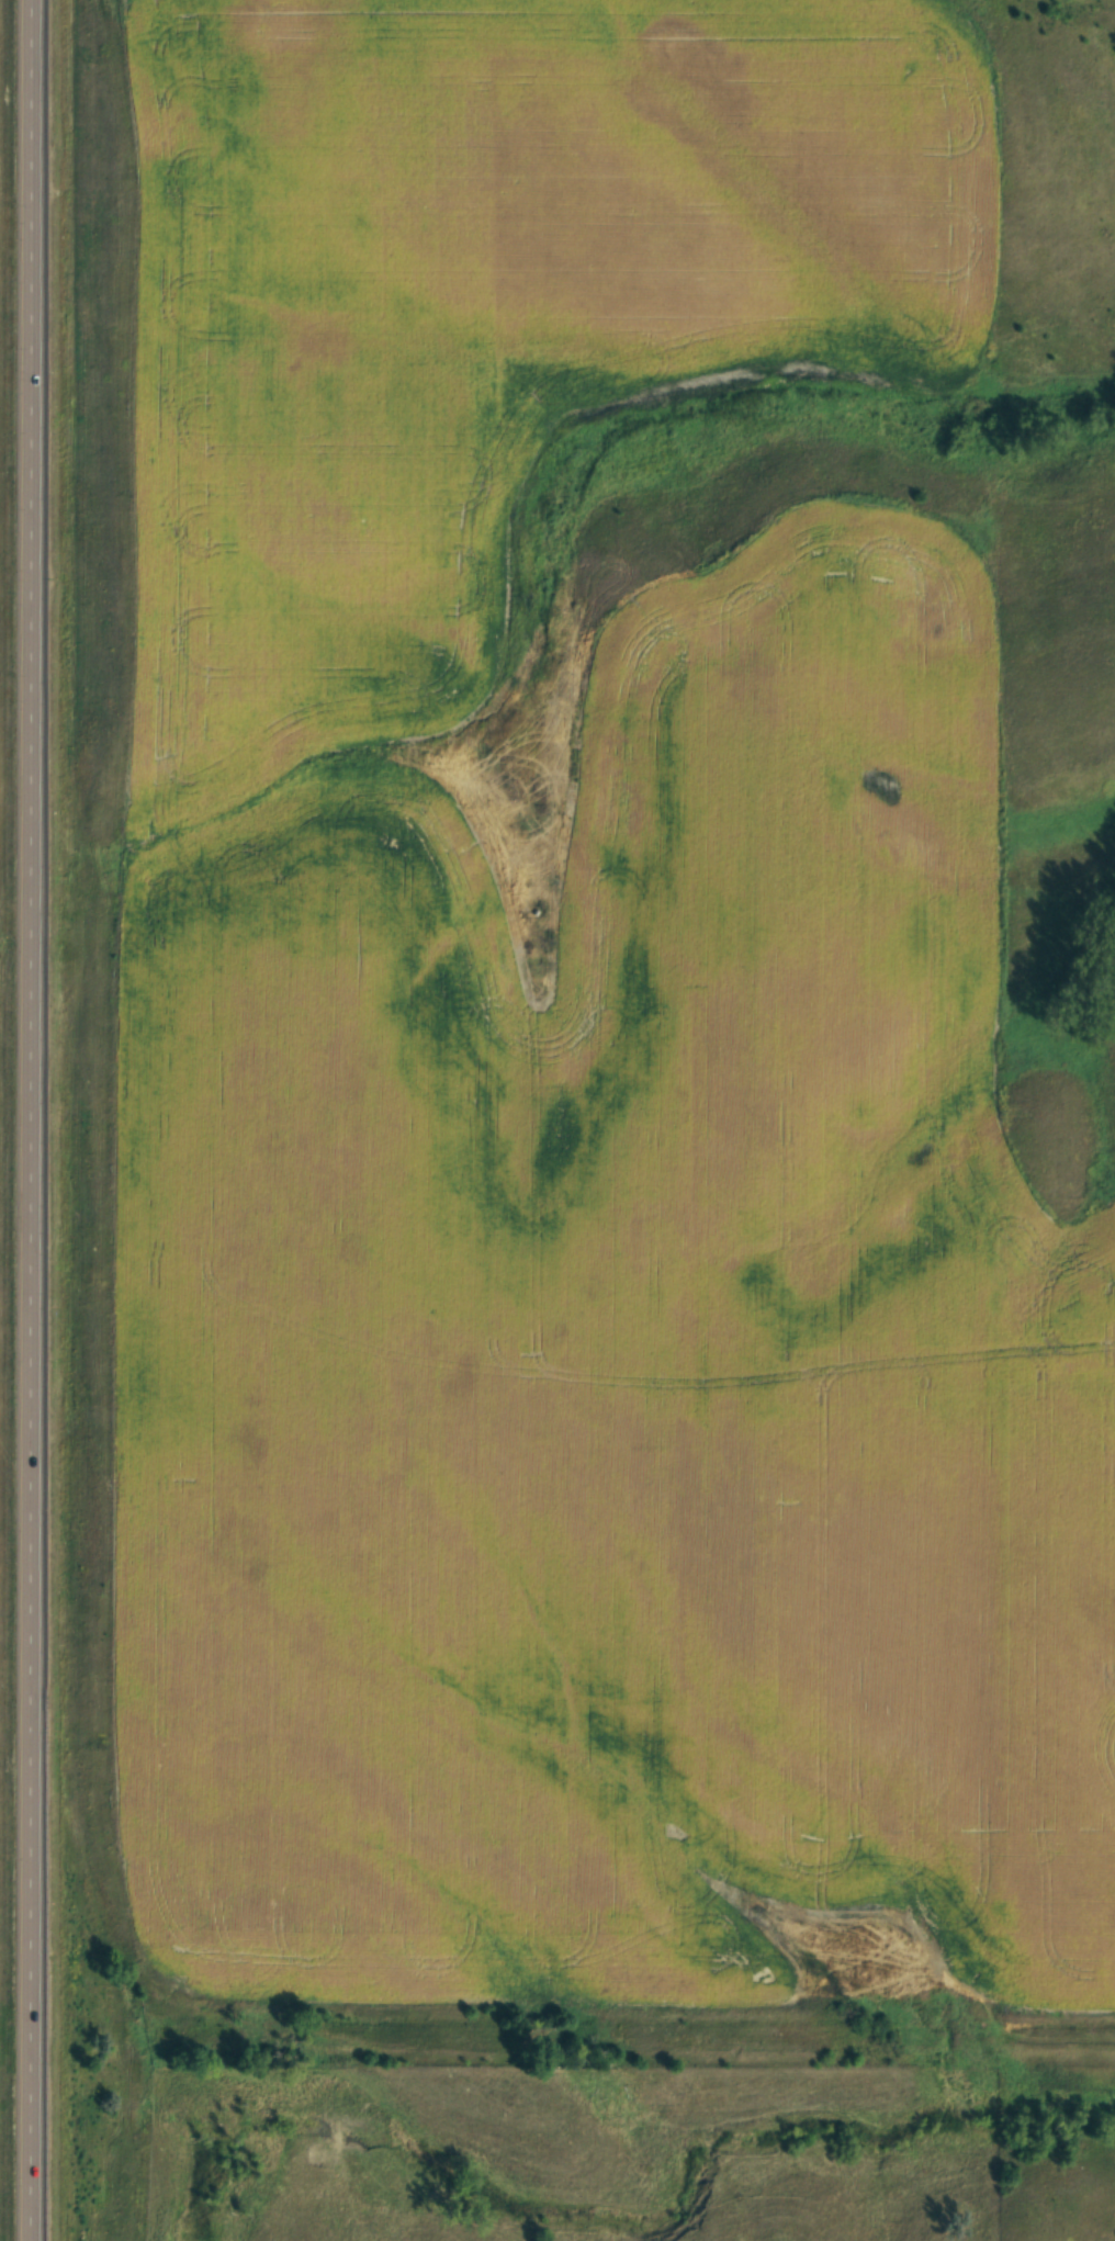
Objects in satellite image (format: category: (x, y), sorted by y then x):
road: (23, 1120)
road: (1090, 2058)

